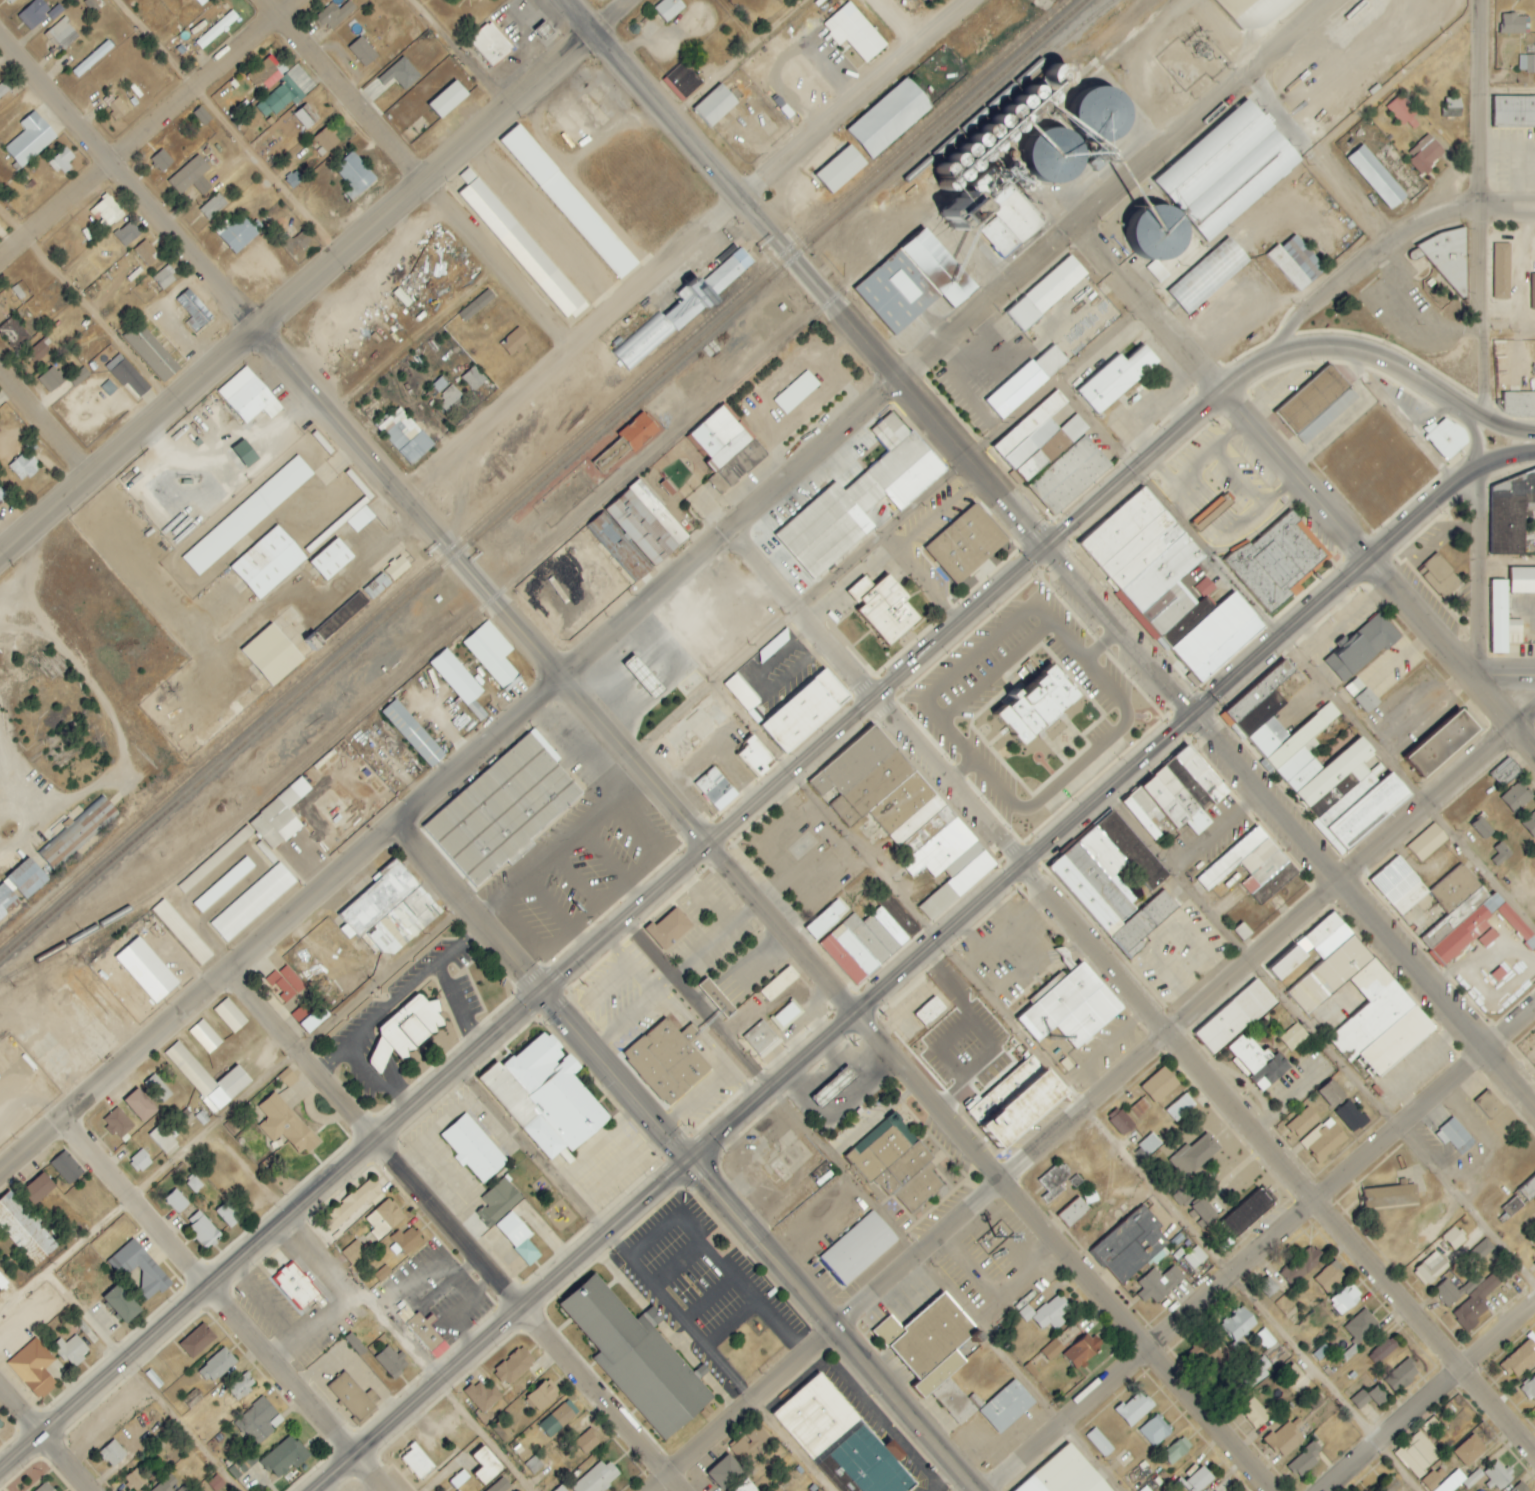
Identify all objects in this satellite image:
building: (9, 1)
building: (201, 2)
building: (667, 9)
building: (1251, 11)
building: (33, 14)
road: (578, 14)
building: (334, 15)
road: (607, 15)
road: (900, 22)
building: (1514, 24)
building: (217, 30)
building: (853, 33)
building: (61, 34)
building: (370, 39)
building: (490, 44)
building: (362, 52)
road: (456, 52)
building: (761, 57)
building: (92, 59)
power substation: (1190, 59)
building: (1526, 63)
building: (401, 74)
building: (264, 75)
building: (682, 81)
building: (4, 88)
road: (1505, 93)
railway: (999, 96)
road: (851, 98)
building: (281, 99)
building: (448, 100)
building: (716, 105)
road: (1476, 105)
building: (1453, 107)
building: (117, 108)
building: (1403, 111)
building: (1515, 111)
building: (1102, 113)
building: (306, 116)
building: (889, 118)
road: (143, 128)
road: (227, 129)
building: (326, 139)
building: (29, 140)
building: (1426, 155)
building: (1058, 157)
road: (1321, 159)
building: (62, 160)
building: (161, 161)
building: (840, 170)
building: (354, 175)
building: (191, 177)
road: (420, 177)
road: (415, 178)
building: (1375, 178)
road: (125, 180)
road: (1124, 192)
building: (568, 202)
road: (528, 206)
building: (213, 207)
building: (108, 211)
road: (1457, 211)
building: (235, 234)
building: (126, 235)
building: (295, 242)
building: (520, 246)
building: (146, 253)
building: (1297, 263)
building: (1500, 271)
building: (1207, 276)
building: (164, 278)
building: (914, 283)
road: (816, 289)
building: (1532, 292)
building: (1046, 293)
road: (86, 303)
road: (1309, 304)
building: (476, 306)
building: (683, 310)
building: (193, 311)
road: (1152, 311)
building: (3, 312)
road: (1476, 313)
road: (1505, 324)
building: (19, 330)
building: (516, 342)
road: (422, 345)
building: (154, 349)
road: (574, 352)
road: (1446, 361)
road: (1387, 364)
building: (127, 375)
building: (78, 377)
building: (473, 379)
building: (1116, 379)
building: (51, 380)
road: (1057, 382)
building: (1025, 383)
building: (796, 393)
building: (248, 397)
building: (448, 399)
building: (1310, 400)
building: (1519, 405)
road: (43, 424)
building: (1075, 428)
road: (1406, 429)
road: (1517, 430)
road: (1471, 432)
building: (405, 437)
building: (1446, 437)
building: (1031, 439)
road: (125, 441)
building: (627, 443)
building: (727, 446)
road: (1153, 453)
building: (244, 454)
building: (24, 467)
railway: (534, 471)
building: (1070, 476)
railway: (542, 478)
building: (2, 494)
building: (861, 499)
railway: (596, 505)
building: (1511, 515)
building: (247, 516)
building: (360, 519)
building: (646, 524)
road: (1349, 535)
road: (5, 540)
building: (966, 545)
traffic signals: (1043, 548)
building: (331, 560)
road: (1506, 560)
building: (1277, 562)
building: (267, 563)
building: (397, 568)
road: (1354, 568)
road: (1476, 571)
building: (1440, 577)
road: (920, 581)
building: (1522, 581)
building: (1168, 585)
building: (1205, 587)
building: (884, 608)
road: (800, 612)
road: (807, 613)
building: (1499, 617)
road: (1116, 631)
building: (1516, 632)
road: (1099, 644)
building: (1362, 648)
building: (272, 654)
building: (490, 654)
road: (1078, 654)
road: (1297, 655)
road: (553, 673)
building: (644, 675)
road: (1504, 675)
building: (459, 681)
building: (741, 693)
building: (1359, 694)
building: (1037, 705)
building: (805, 711)
road: (1504, 714)
traffic signals: (1189, 715)
road: (1524, 715)
building: (411, 733)
building: (1442, 743)
building: (755, 757)
building: (1318, 763)
road: (961, 769)
building: (1506, 772)
building: (1201, 774)
road: (951, 780)
road: (452, 785)
building: (716, 789)
building: (1518, 796)
building: (1166, 803)
road: (1424, 803)
building: (503, 809)
building: (906, 814)
building: (279, 816)
building: (1530, 824)
building: (1481, 828)
building: (79, 832)
building: (1427, 843)
building: (1500, 854)
road: (1407, 857)
road: (867, 858)
building: (1253, 866)
building: (1115, 882)
building: (223, 883)
building: (20, 886)
building: (251, 903)
building: (1446, 909)
road: (1361, 910)
building: (390, 911)
road: (471, 911)
building: (826, 919)
building: (669, 929)
building: (1243, 931)
building: (180, 932)
building: (869, 939)
building: (1288, 963)
building: (145, 969)
building: (284, 984)
building: (778, 985)
road: (951, 988)
traffic signals: (539, 994)
building: (716, 997)
building: (1386, 997)
building: (1073, 1006)
road: (521, 1009)
building: (930, 1011)
building: (229, 1015)
building: (786, 1016)
building: (1235, 1017)
building: (313, 1020)
road: (1508, 1024)
building: (406, 1030)
road: (982, 1034)
building: (204, 1035)
building: (1294, 1037)
building: (761, 1039)
road: (1319, 1041)
road: (306, 1056)
building: (666, 1062)
building: (1258, 1062)
building: (288, 1078)
building: (207, 1079)
building: (839, 1082)
building: (1160, 1085)
building: (158, 1089)
building: (1332, 1094)
building: (545, 1098)
building: (1017, 1101)
building: (1487, 1105)
building: (140, 1106)
building: (1139, 1108)
building: (1180, 1108)
road: (760, 1109)
road: (229, 1110)
building: (1351, 1116)
building: (1121, 1122)
building: (1303, 1122)
building: (117, 1124)
building: (285, 1125)
building: (1455, 1136)
building: (162, 1139)
building: (1327, 1141)
building: (1147, 1147)
building: (473, 1148)
road: (535, 1152)
building: (1194, 1156)
building: (140, 1162)
road: (1276, 1162)
traffic signals: (699, 1164)
building: (896, 1166)
road: (248, 1169)
building: (63, 1171)
building: (1054, 1182)
building: (194, 1184)
road: (993, 1187)
building: (1527, 1187)
building: (38, 1188)
building: (1391, 1195)
building: (500, 1200)
building: (176, 1202)
road: (876, 1204)
road: (138, 1205)
building: (353, 1205)
building: (1513, 1206)
building: (1074, 1212)
building: (1203, 1213)
building: (1246, 1213)
building: (228, 1214)
building: (384, 1218)
building: (202, 1229)
building: (24, 1230)
building: (518, 1238)
road: (759, 1238)
building: (1534, 1239)
building: (1131, 1245)
building: (858, 1248)
building: (354, 1253)
road: (1063, 1255)
building: (1195, 1257)
building: (1301, 1265)
building: (1431, 1268)
building: (139, 1269)
building: (382, 1273)
road: (1237, 1275)
building: (1329, 1278)
building: (2, 1282)
building: (1159, 1283)
building: (1268, 1286)
building: (295, 1287)
building: (1449, 1289)
road: (1257, 1297)
building: (1345, 1299)
building: (121, 1303)
building: (1475, 1303)
road: (529, 1312)
building: (1047, 1312)
building: (648, 1320)
building: (1239, 1324)
building: (1361, 1326)
building: (426, 1334)
building: (196, 1341)
road: (413, 1349)
building: (1052, 1349)
building: (71, 1350)
building: (1083, 1350)
building: (1382, 1350)
building: (934, 1352)
building: (1214, 1357)
building: (636, 1358)
building: (1520, 1359)
building: (392, 1360)
building: (216, 1365)
building: (514, 1366)
building: (34, 1368)
building: (1257, 1371)
building: (1293, 1374)
building: (1402, 1374)
building: (241, 1386)
road: (300, 1388)
building: (1530, 1389)
road: (1433, 1394)
building: (483, 1396)
building: (542, 1396)
building: (350, 1397)
building: (1313, 1398)
building: (1360, 1399)
building: (1005, 1407)
building: (1135, 1408)
road: (21, 1411)
building: (1255, 1412)
building: (259, 1420)
building: (557, 1420)
road: (187, 1424)
building: (0, 1427)
building: (1153, 1431)
building: (1286, 1437)
building: (841, 1440)
building: (587, 1442)
building: (748, 1444)
road: (789, 1445)
building: (1470, 1450)
building: (1177, 1451)
building: (112, 1453)
building: (1418, 1454)
building: (284, 1457)
building: (1305, 1460)
road: (70, 1462)
building: (417, 1462)
building: (533, 1464)
building: (486, 1465)
building: (725, 1472)
building: (1065, 1474)
building: (1497, 1475)
building: (596, 1478)
building: (459, 1479)
building: (1199, 1480)
building: (1460, 1480)
building: (131, 1482)
building: (216, 1483)
building: (166, 1484)
building: (500, 1485)
building: (746, 1486)
building: (45, 1487)
building: (1520, 1487)
building: (184, 1488)
building: (560, 1488)
building: (458, 1490)

